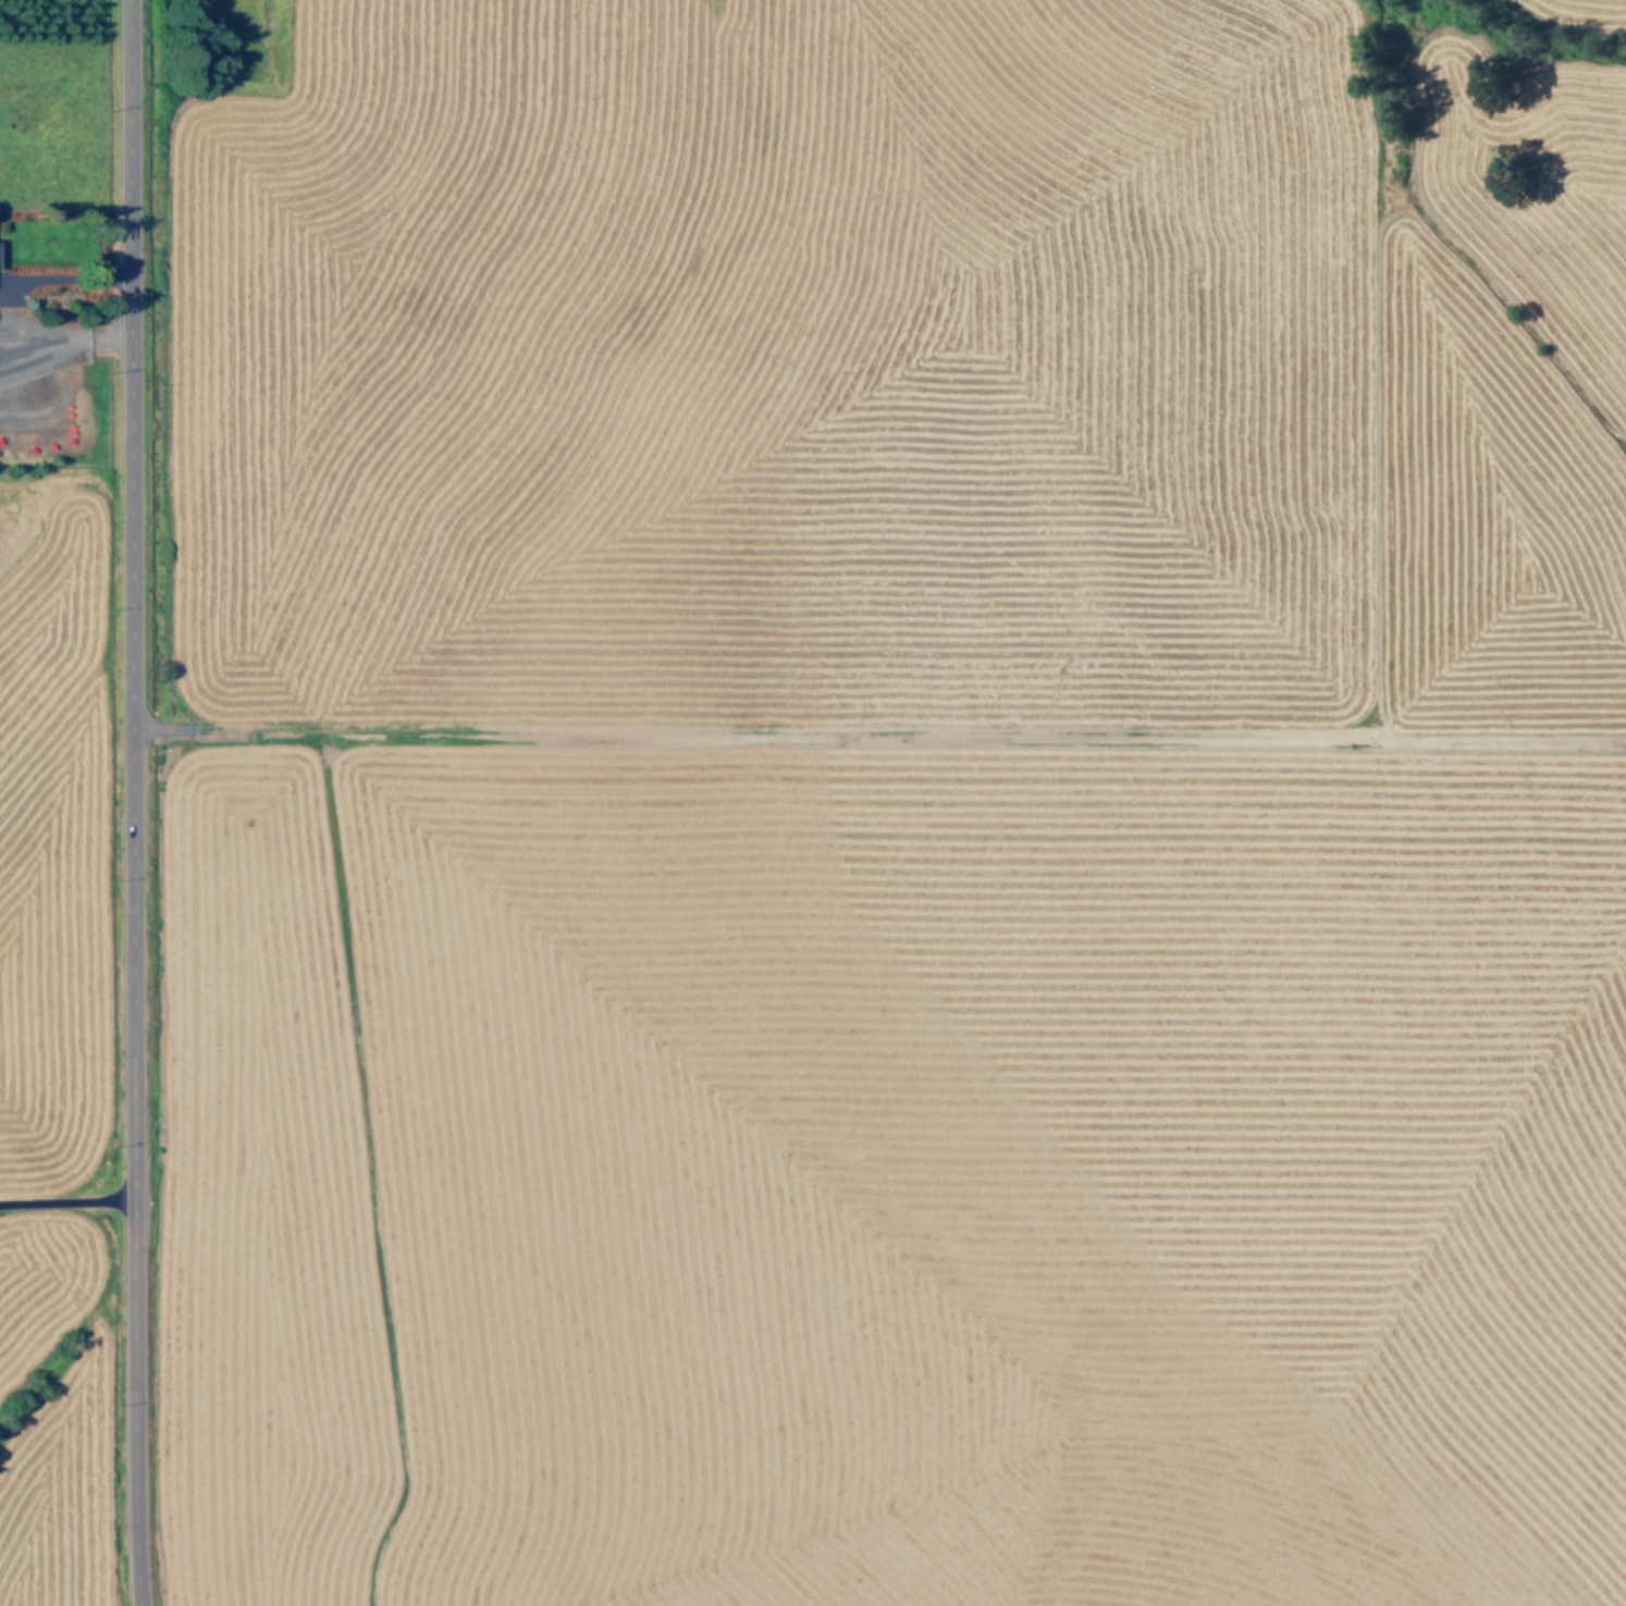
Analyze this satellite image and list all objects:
road: (64, 279)
road: (63, 338)
road: (131, 803)
crop: (909, 805)
road: (65, 1202)

